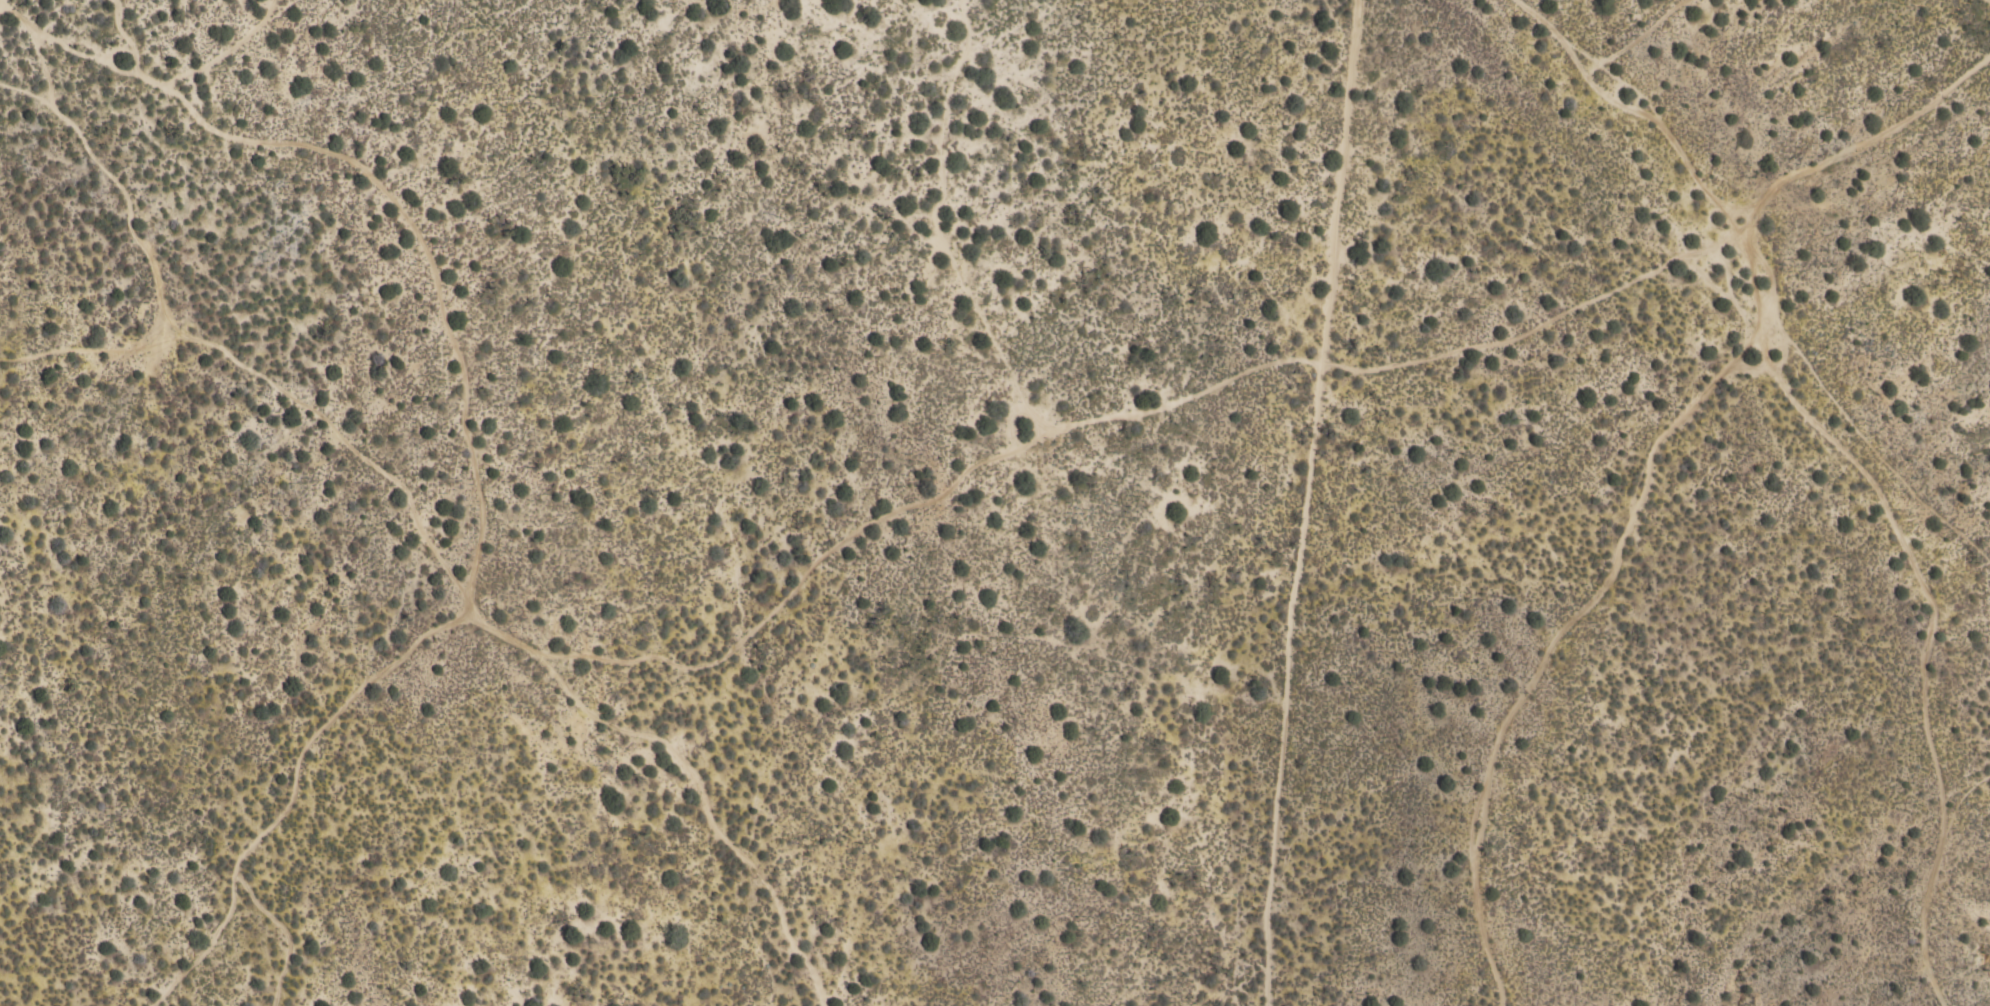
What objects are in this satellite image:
road: (1305, 502)

